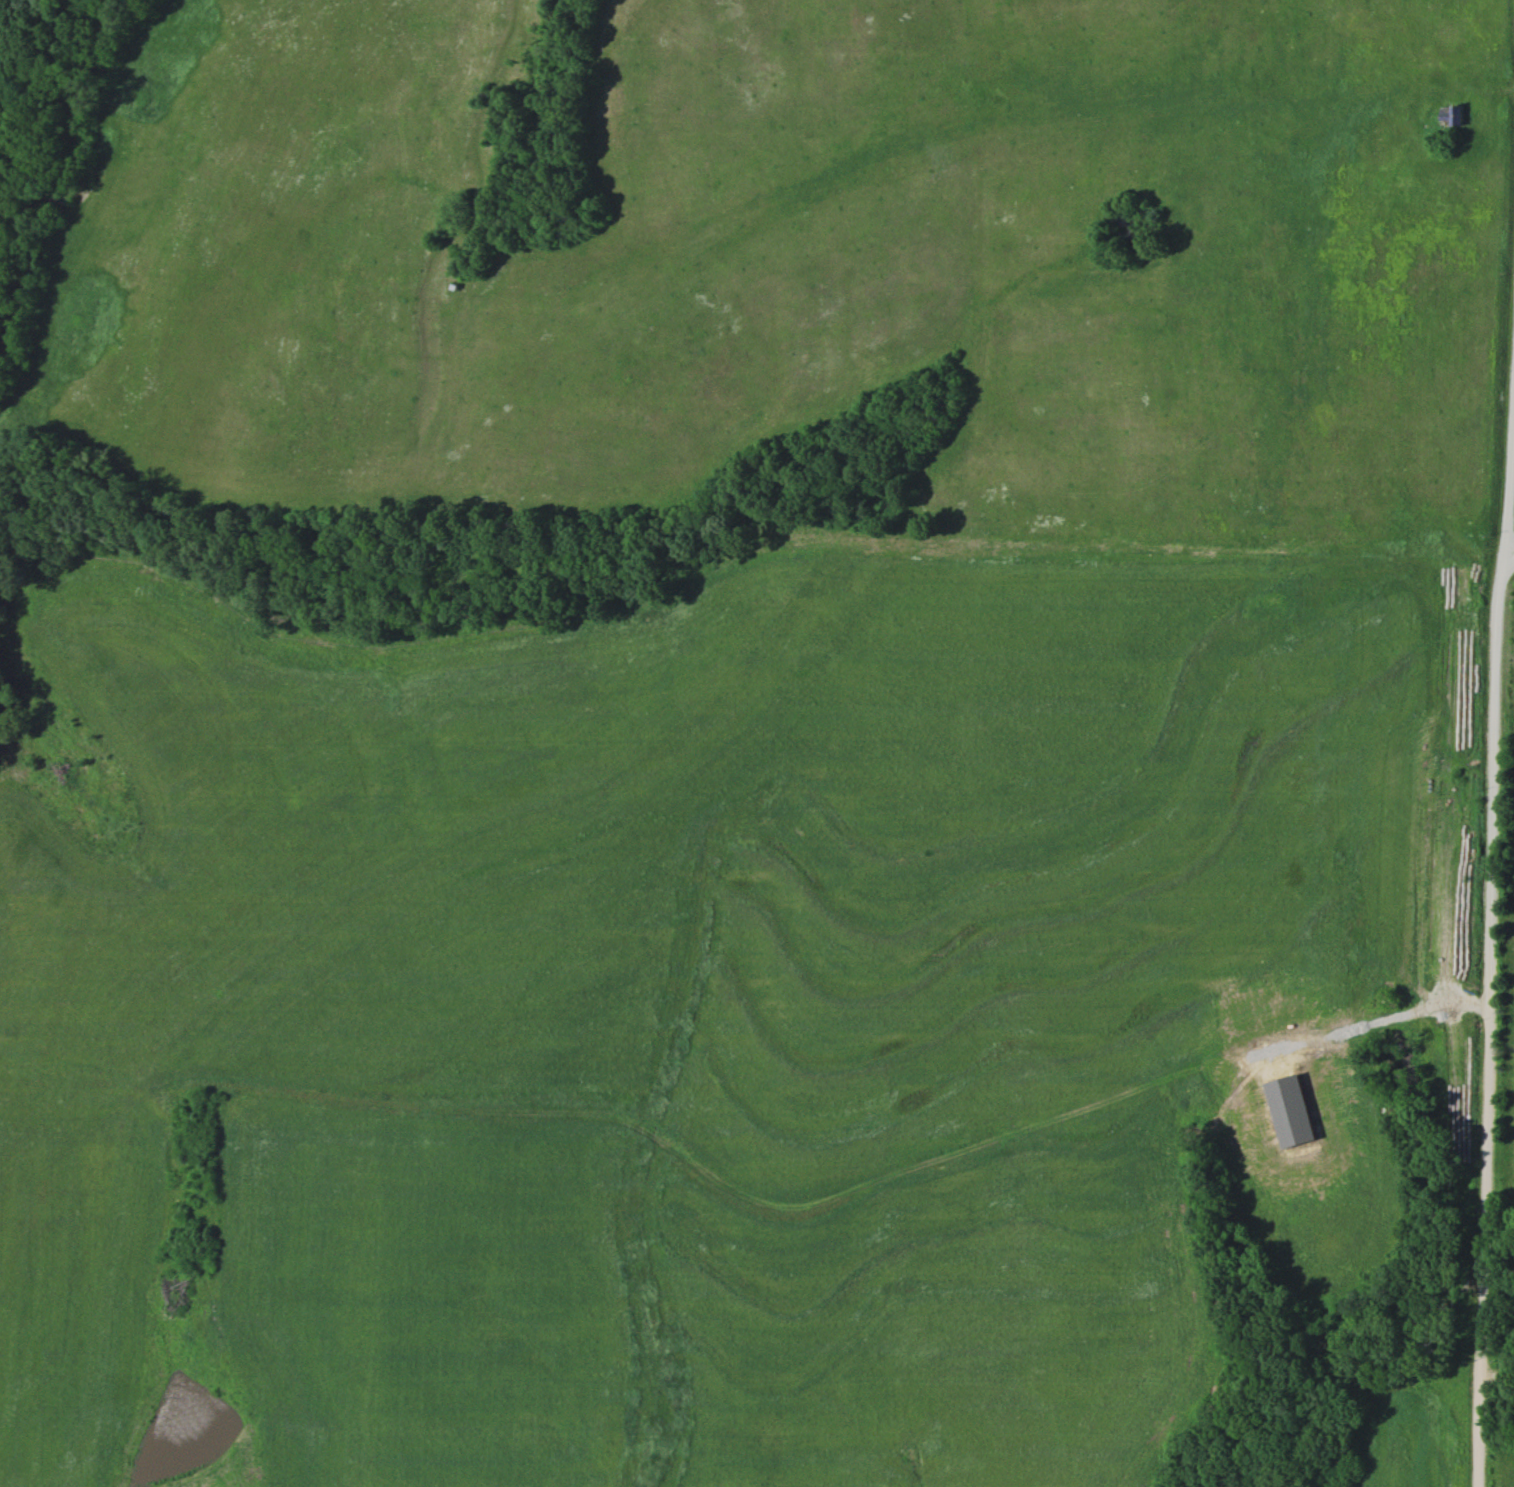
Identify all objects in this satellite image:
road: (1511, 558)
road: (1492, 970)
road: (1500, 1376)

